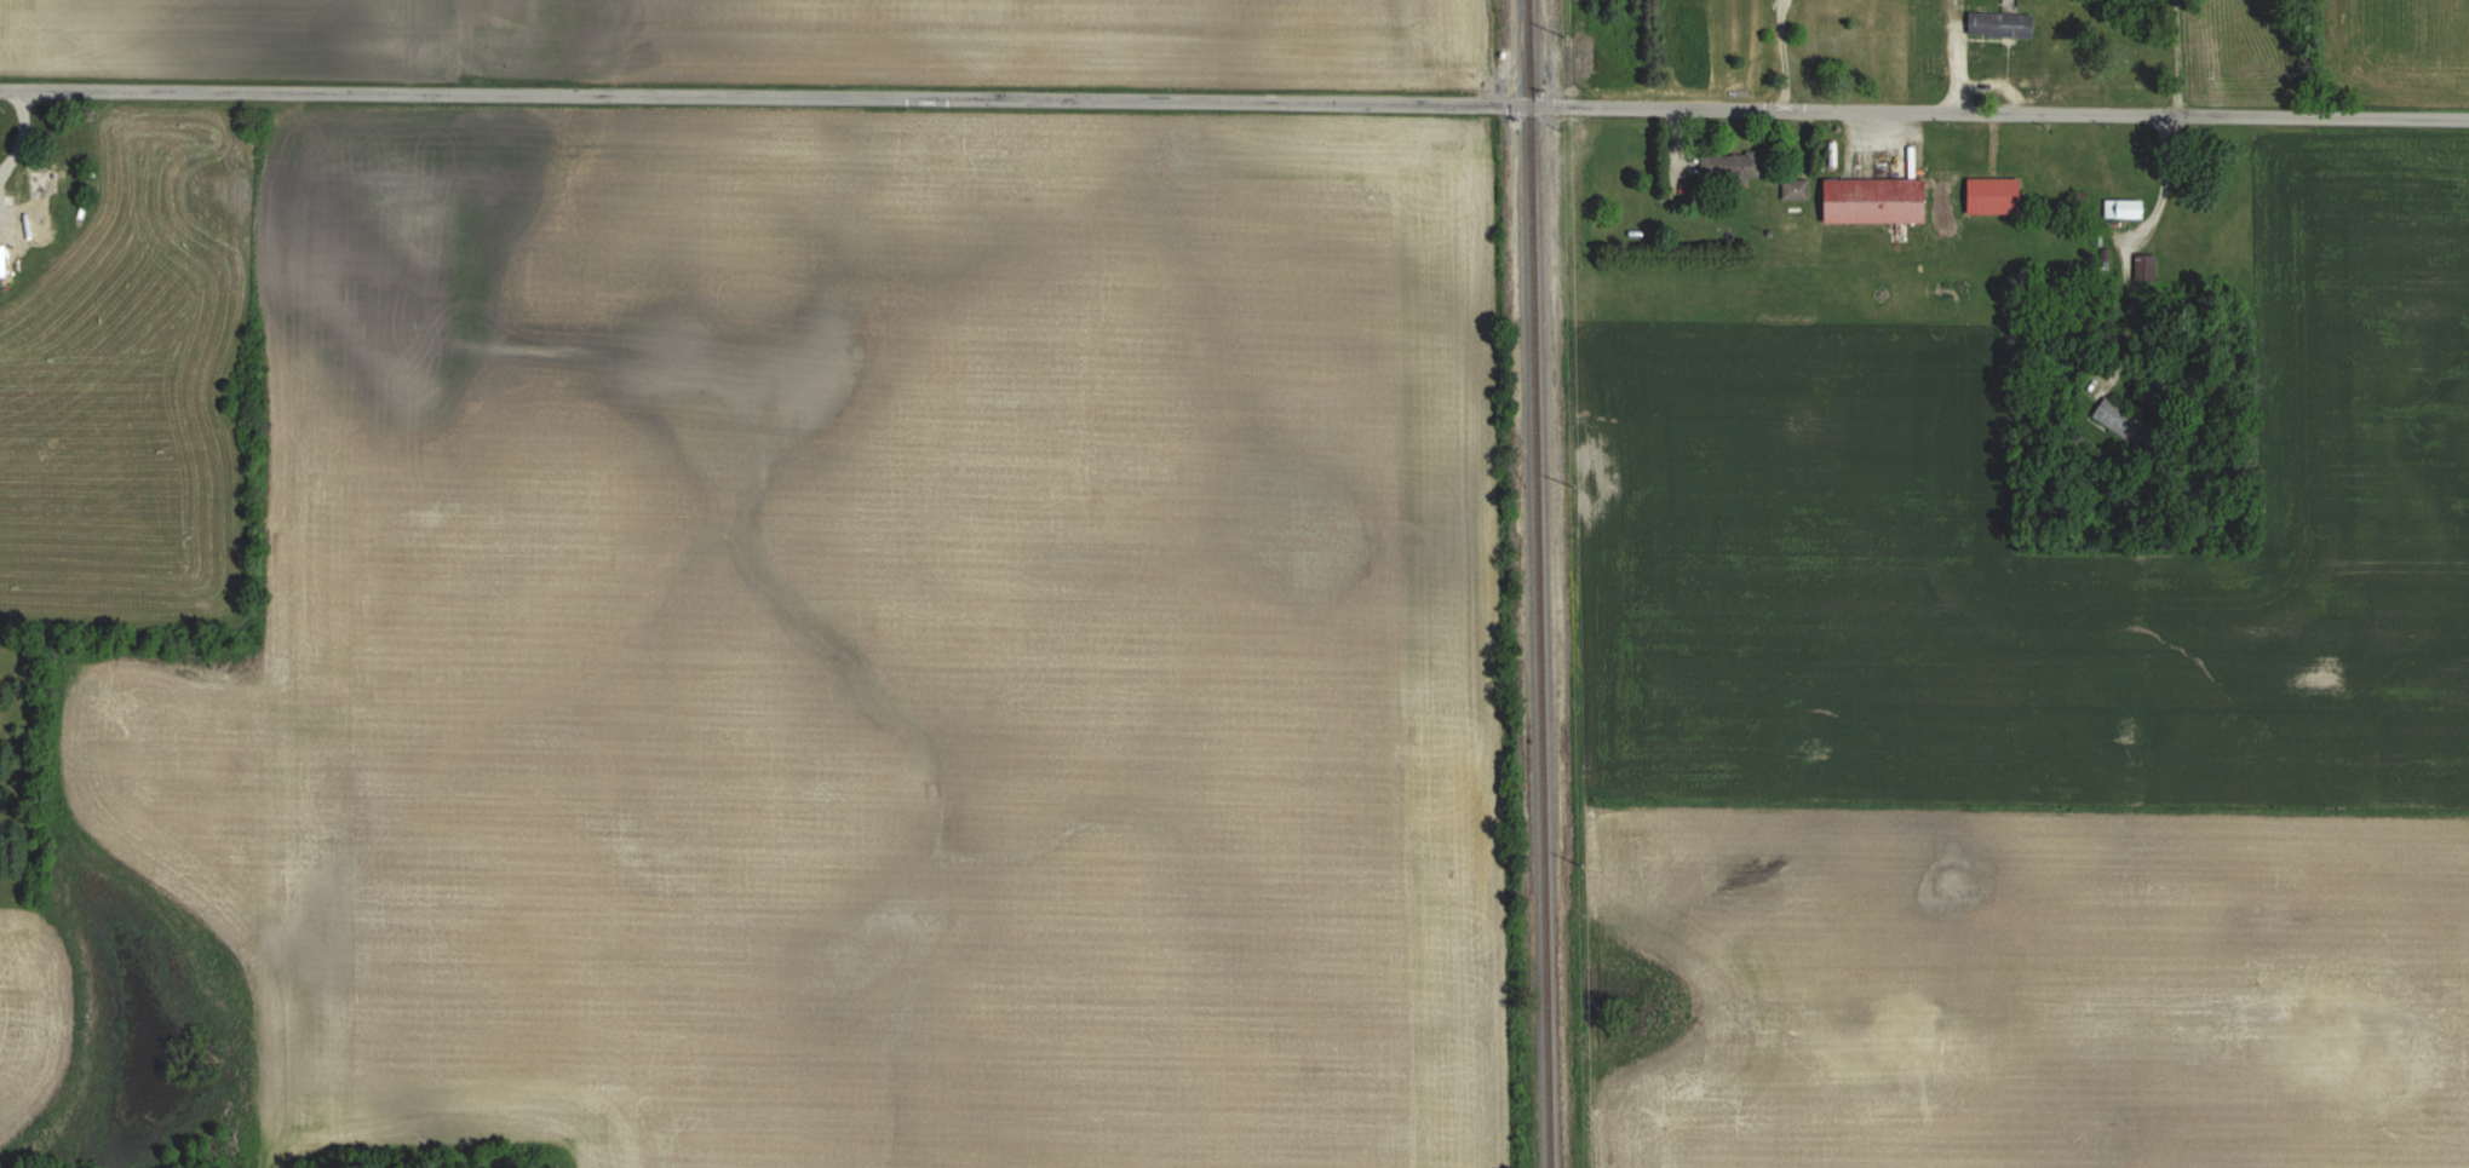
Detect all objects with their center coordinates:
building: (2000, 24)
road: (1775, 56)
road: (2176, 56)
road: (1234, 105)
building: (1730, 165)
road: (2164, 183)
building: (42, 184)
building: (1992, 196)
building: (1872, 200)
building: (2123, 208)
building: (5, 219)
building: (2130, 420)
railway: (1539, 583)

